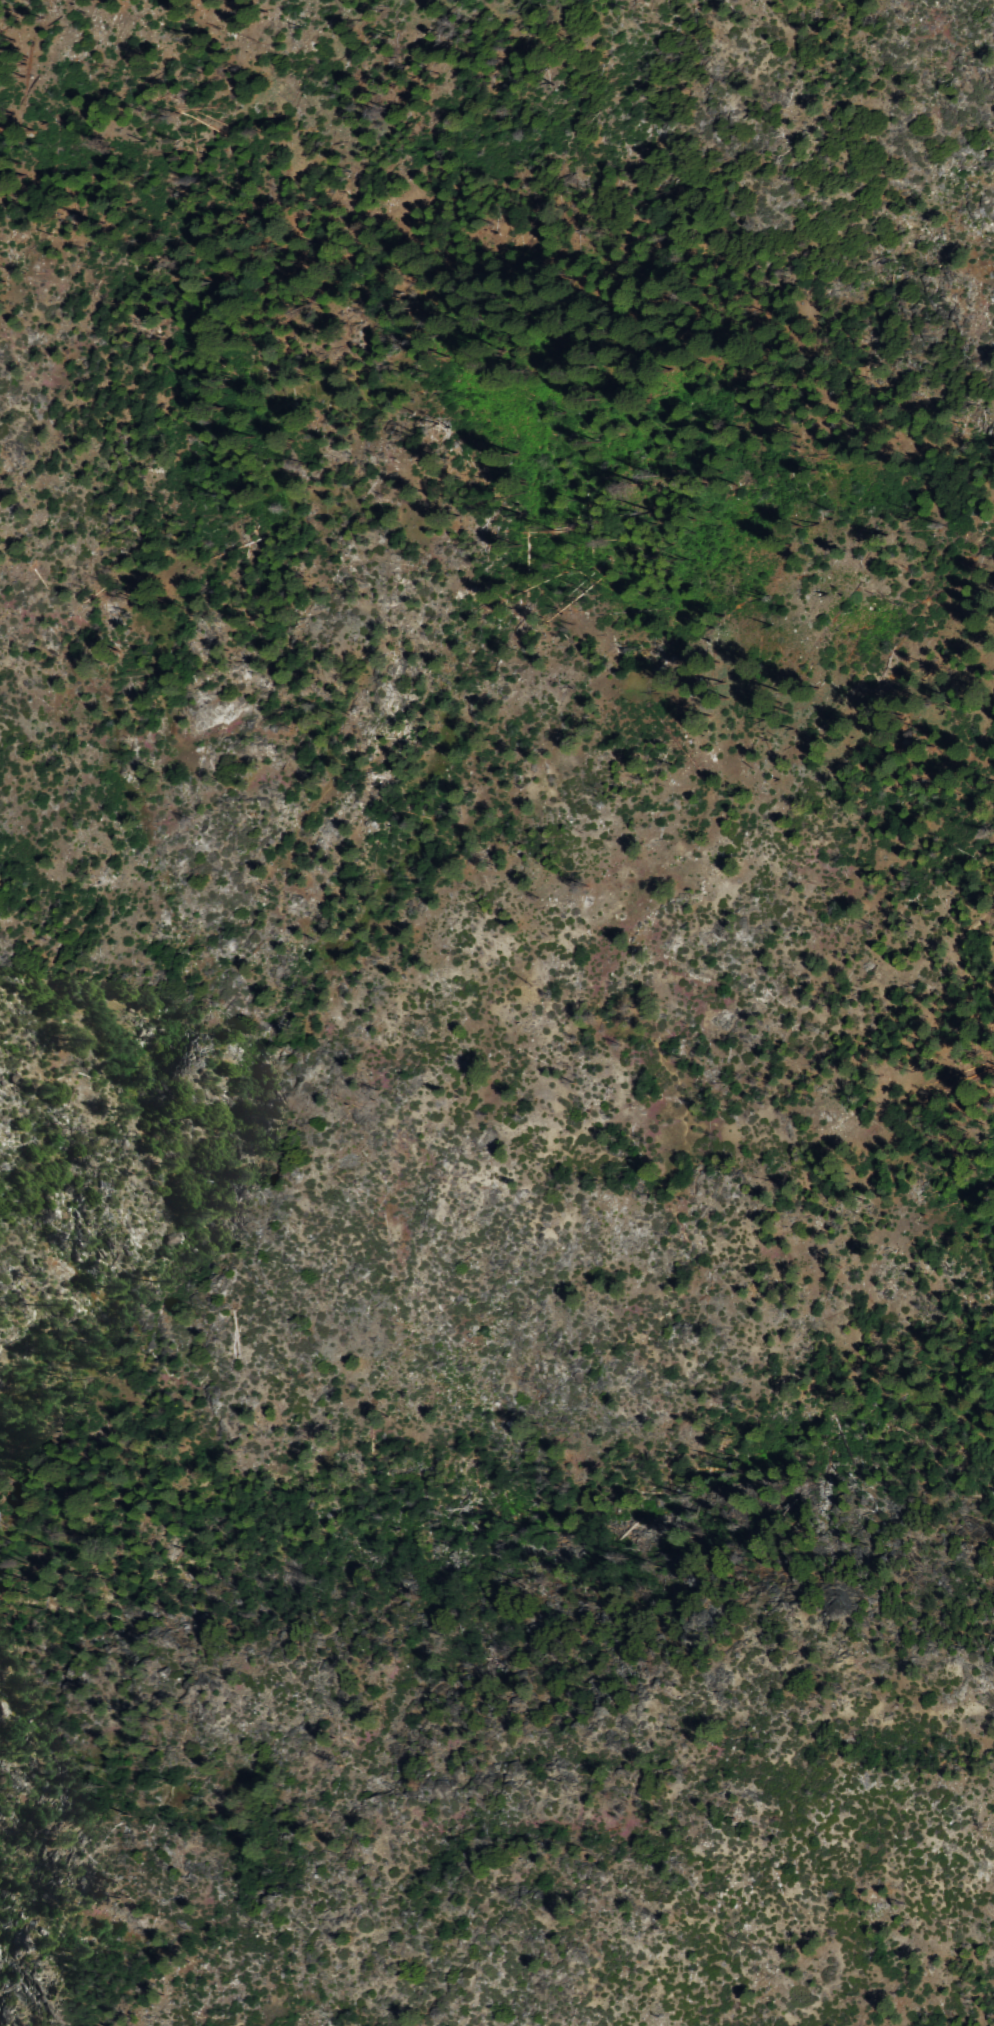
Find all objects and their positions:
airstrip: (2, 2024)

